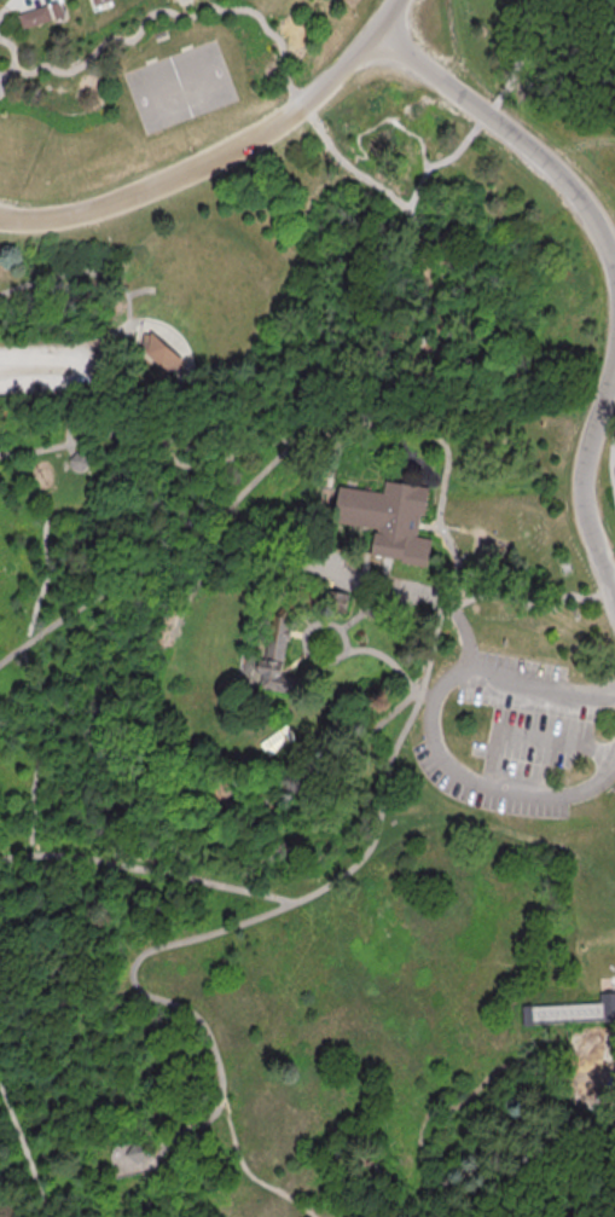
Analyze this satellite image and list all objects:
building: (97, 1)
road: (396, 2)
road: (4, 5)
road: (33, 5)
building: (56, 8)
building: (34, 16)
road: (6, 73)
road: (290, 82)
road: (2, 85)
park: (180, 87)
road: (500, 95)
road: (396, 123)
road: (516, 138)
road: (358, 139)
road: (224, 153)
road: (424, 161)
road: (137, 290)
road: (122, 311)
road: (92, 348)
building: (162, 354)
parking lot: (43, 370)
road: (43, 370)
road: (337, 436)
road: (69, 448)
road: (336, 452)
road: (232, 456)
building: (77, 460)
road: (331, 473)
road: (610, 473)
road: (58, 479)
road: (445, 480)
road: (584, 482)
building: (388, 518)
road: (427, 527)
road: (159, 558)
road: (611, 576)
road: (416, 589)
road: (42, 590)
road: (445, 590)
park: (302, 595)
road: (377, 615)
road: (353, 618)
road: (304, 619)
road: (298, 634)
road: (307, 639)
building: (273, 651)
road: (387, 659)
road: (296, 663)
road: (31, 674)
road: (428, 691)
road: (430, 725)
parking lot: (521, 738)
road: (529, 738)
road: (128, 752)
road: (329, 755)
road: (40, 764)
road: (31, 836)
road: (31, 848)
road: (275, 896)
road: (607, 981)
road: (161, 997)
building: (570, 1012)
road: (445, 1108)
road: (24, 1149)
building: (139, 1152)
park: (527, 1169)
road: (249, 1170)
road: (139, 1178)
road: (602, 1211)

